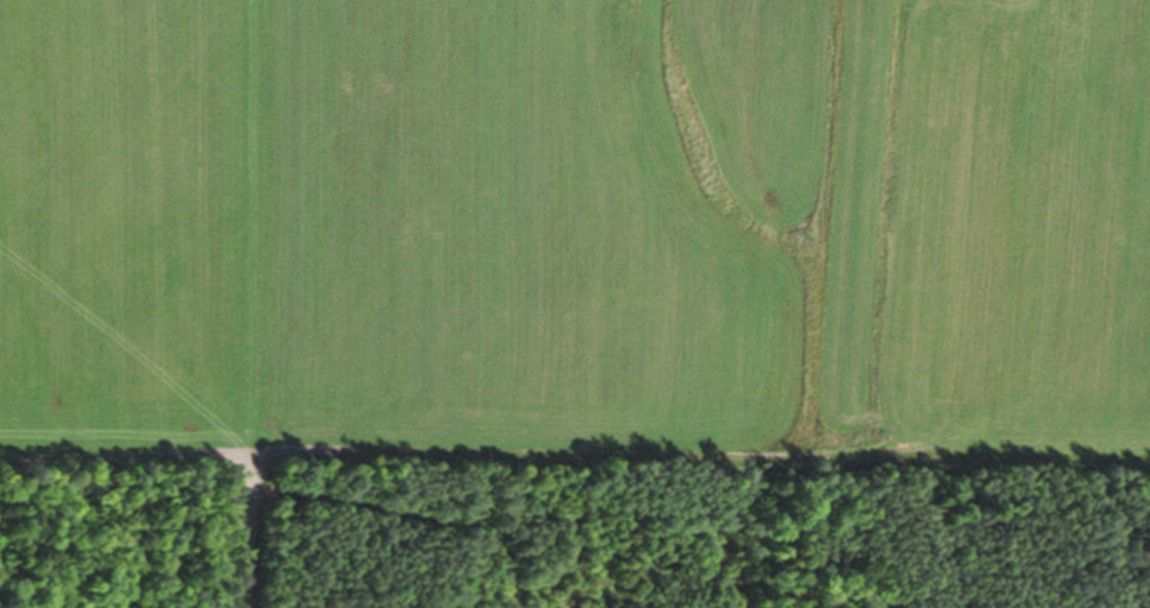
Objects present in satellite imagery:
road: (163, 488)

